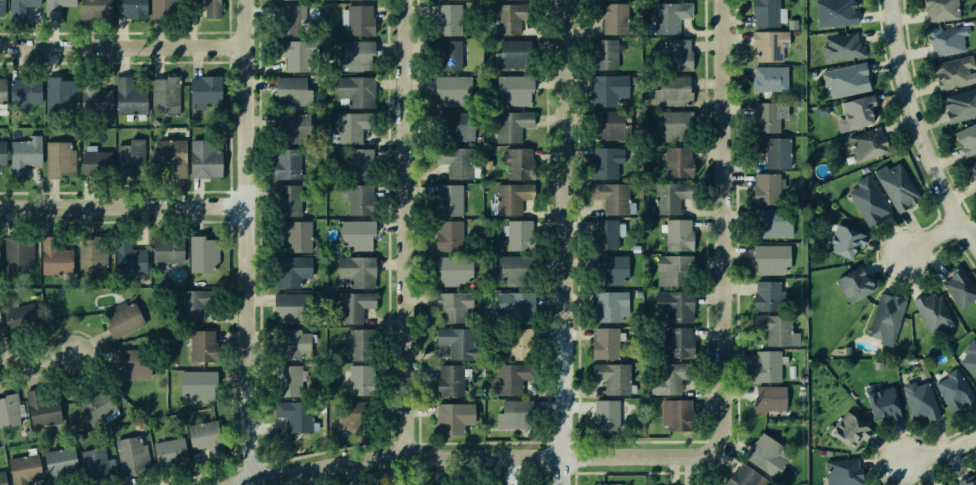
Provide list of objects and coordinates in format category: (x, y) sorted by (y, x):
building: (285, 0)
building: (366, 0)
building: (25, 6)
building: (59, 6)
building: (97, 6)
building: (206, 6)
building: (1, 7)
building: (129, 7)
building: (161, 7)
building: (938, 9)
building: (762, 12)
building: (835, 12)
building: (609, 17)
building: (669, 17)
building: (506, 18)
building: (359, 19)
building: (449, 19)
building: (288, 20)
building: (946, 41)
road: (124, 45)
building: (766, 45)
building: (842, 46)
building: (352, 53)
building: (449, 53)
building: (295, 54)
building: (602, 54)
building: (509, 55)
building: (676, 55)
building: (950, 74)
building: (845, 78)
building: (770, 79)
building: (449, 88)
building: (1, 89)
building: (512, 89)
building: (606, 89)
building: (23, 90)
building: (57, 91)
building: (289, 91)
building: (355, 91)
building: (669, 91)
building: (203, 92)
building: (162, 95)
building: (126, 97)
building: (94, 99)
building: (960, 104)
building: (859, 110)
building: (765, 117)
building: (511, 124)
building: (456, 125)
building: (608, 125)
building: (668, 126)
building: (347, 127)
building: (288, 129)
road: (915, 129)
building: (966, 136)
building: (868, 144)
building: (772, 151)
building: (1, 153)
building: (22, 155)
building: (130, 155)
building: (170, 156)
building: (58, 159)
building: (202, 159)
building: (95, 161)
building: (456, 161)
building: (677, 162)
building: (360, 163)
building: (603, 163)
building: (286, 164)
building: (517, 164)
building: (972, 170)
building: (895, 184)
building: (765, 189)
building: (615, 198)
building: (868, 198)
building: (359, 199)
building: (450, 199)
building: (504, 199)
building: (666, 199)
building: (286, 200)
road: (126, 205)
road: (723, 220)
building: (771, 223)
road: (412, 228)
building: (357, 233)
building: (518, 234)
building: (605, 234)
building: (678, 234)
building: (448, 235)
road: (253, 238)
building: (298, 238)
road: (925, 238)
building: (840, 241)
road: (564, 242)
building: (14, 250)
building: (166, 251)
building: (201, 251)
building: (54, 256)
building: (93, 256)
building: (126, 256)
building: (769, 259)
building: (608, 268)
building: (509, 269)
building: (290, 270)
building: (453, 270)
building: (666, 270)
building: (356, 271)
building: (855, 284)
building: (960, 286)
building: (766, 295)
building: (192, 306)
building: (354, 306)
building: (451, 306)
building: (607, 306)
building: (674, 306)
building: (288, 307)
building: (508, 308)
building: (20, 311)
building: (932, 311)
building: (120, 318)
building: (886, 318)
building: (0, 321)
building: (776, 329)
building: (675, 341)
building: (457, 342)
building: (291, 343)
building: (361, 343)
building: (517, 343)
building: (603, 343)
building: (200, 345)
building: (855, 352)
building: (971, 357)
road: (34, 359)
building: (129, 362)
building: (766, 366)
building: (611, 377)
building: (668, 378)
building: (360, 379)
building: (450, 379)
building: (510, 379)
building: (285, 380)
building: (194, 384)
building: (952, 389)
building: (771, 399)
building: (918, 399)
building: (881, 403)
building: (97, 405)
building: (7, 407)
building: (39, 409)
building: (606, 409)
building: (348, 414)
building: (509, 414)
building: (675, 414)
building: (297, 415)
building: (452, 416)
building: (849, 429)
building: (201, 435)
building: (170, 452)
road: (937, 453)
building: (129, 454)
building: (765, 455)
road: (474, 456)
building: (93, 460)
building: (59, 463)
building: (24, 468)
building: (843, 470)
building: (745, 477)
building: (3, 479)
building: (969, 481)
building: (611, 484)
building: (802, 484)
building: (951, 484)

